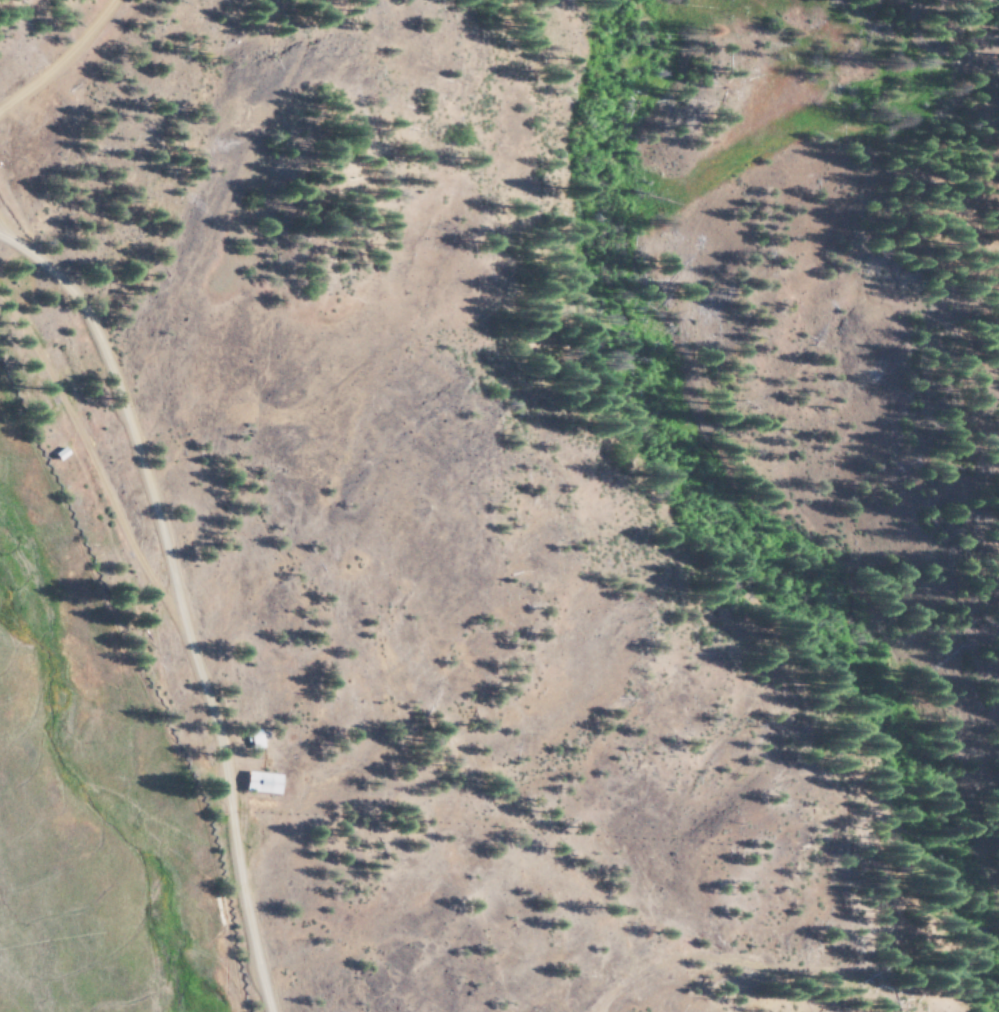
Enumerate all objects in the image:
road: (798, 261)
road: (203, 734)
building: (259, 782)
road: (279, 919)

